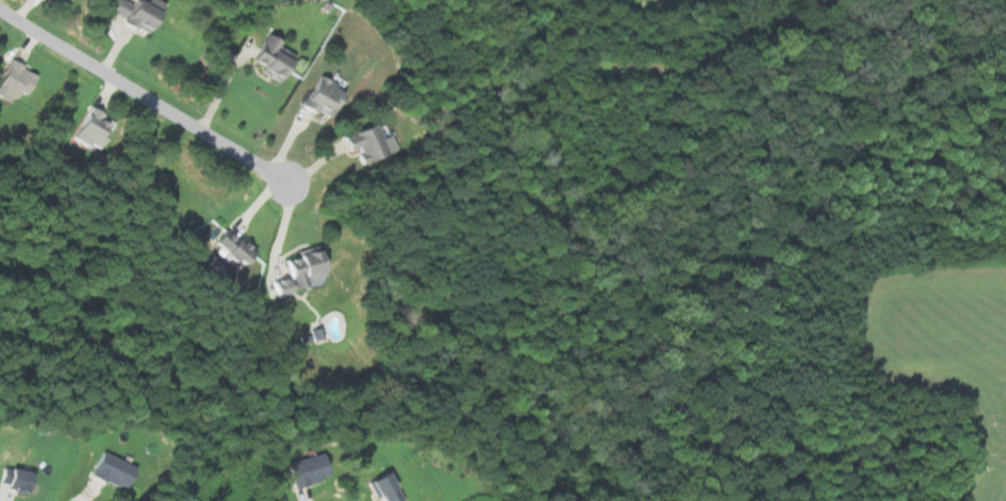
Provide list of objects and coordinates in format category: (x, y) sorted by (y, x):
building: (58, 0)
building: (132, 14)
building: (267, 58)
building: (13, 81)
road: (145, 96)
building: (319, 97)
building: (89, 129)
building: (368, 143)
building: (228, 247)
building: (297, 272)
building: (109, 470)
building: (304, 470)
building: (14, 479)
building: (381, 486)

